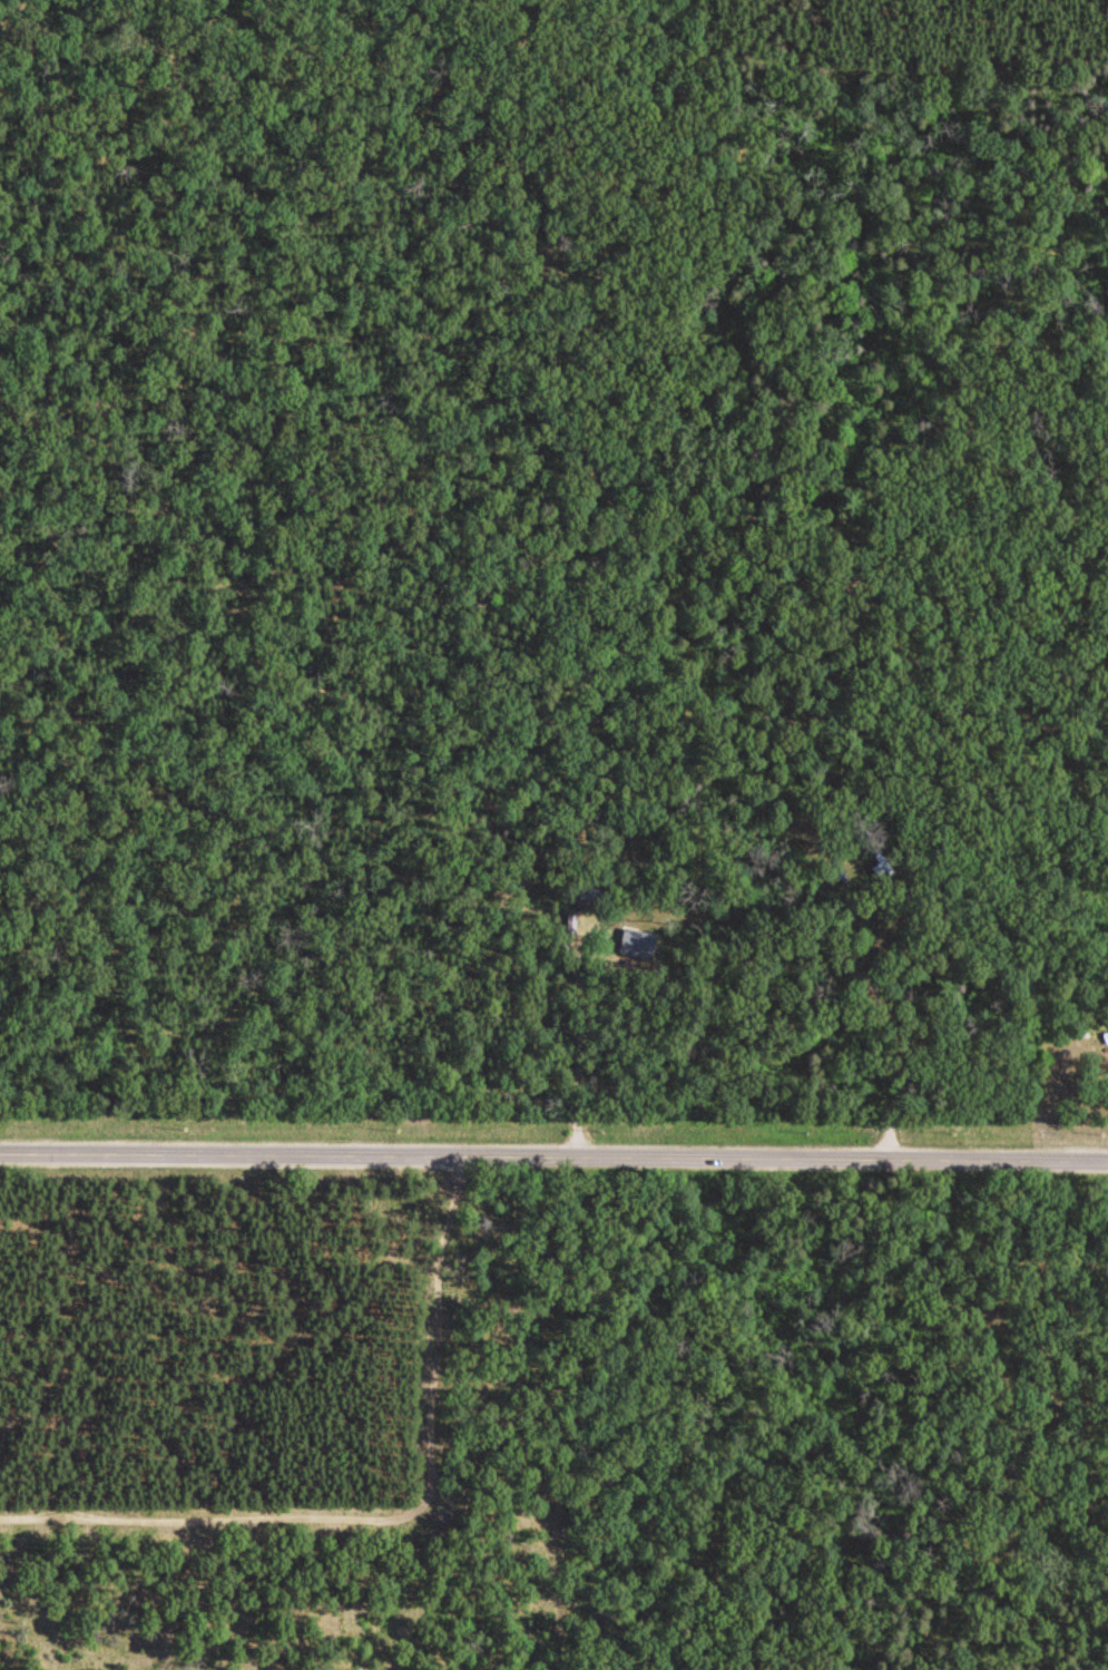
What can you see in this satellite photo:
road: (553, 1154)

